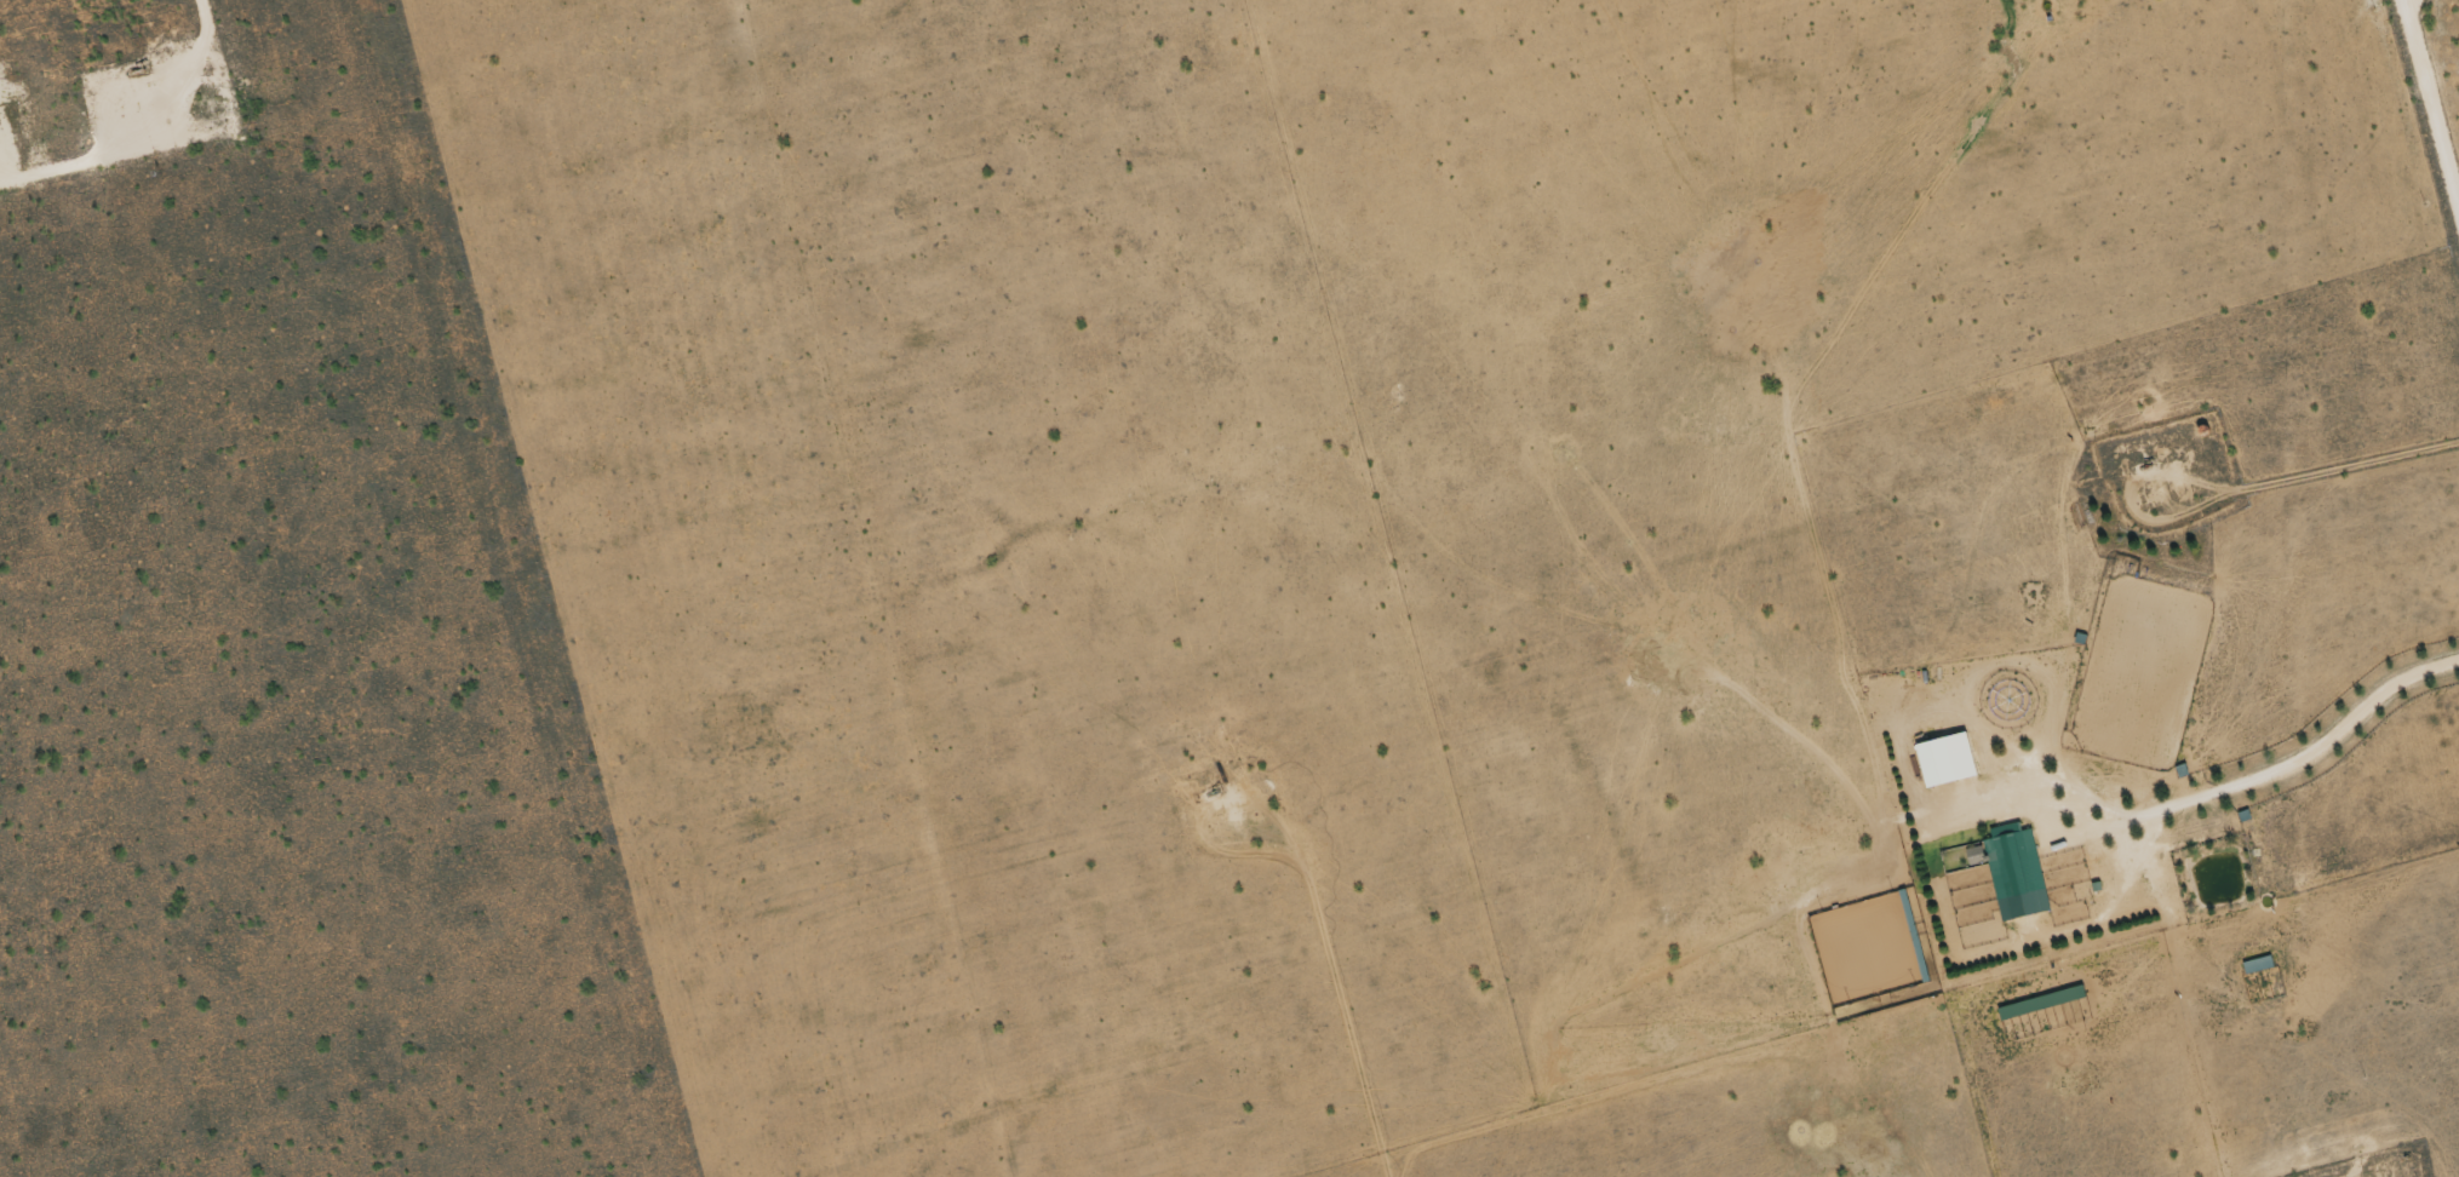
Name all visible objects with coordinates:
road: (2435, 96)

